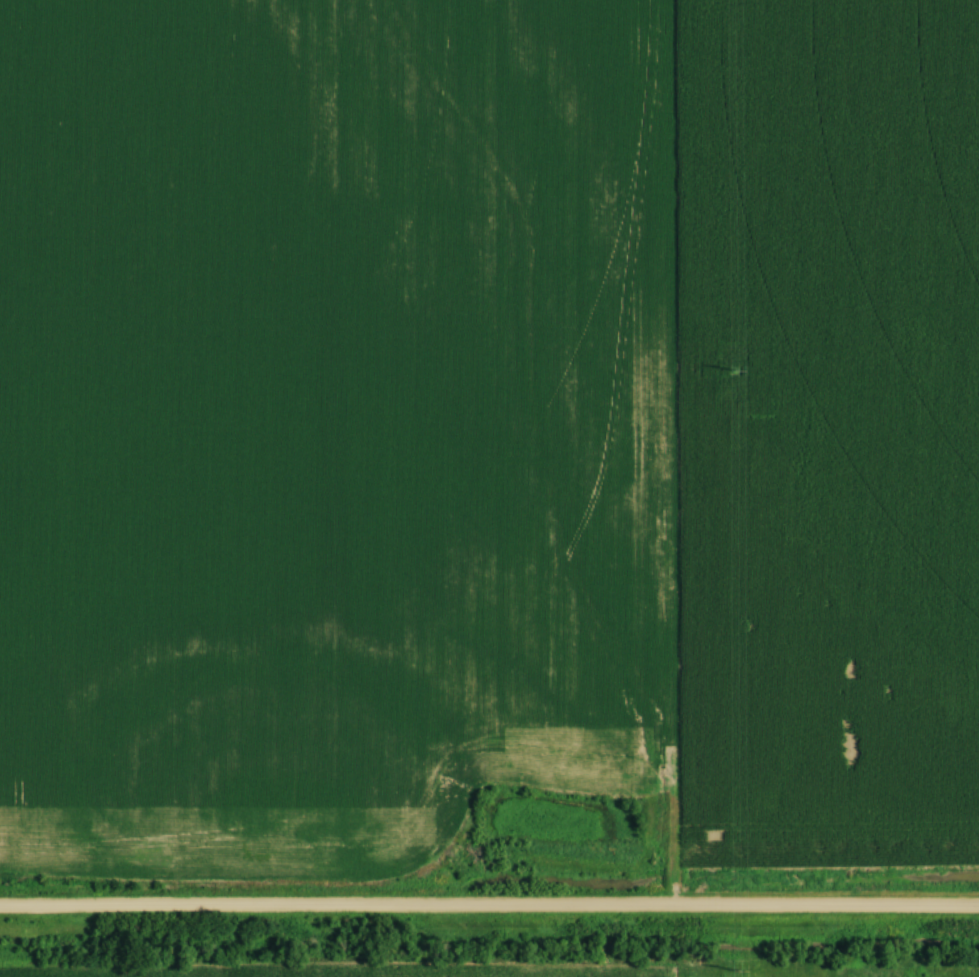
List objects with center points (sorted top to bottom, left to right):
road: (489, 909)

